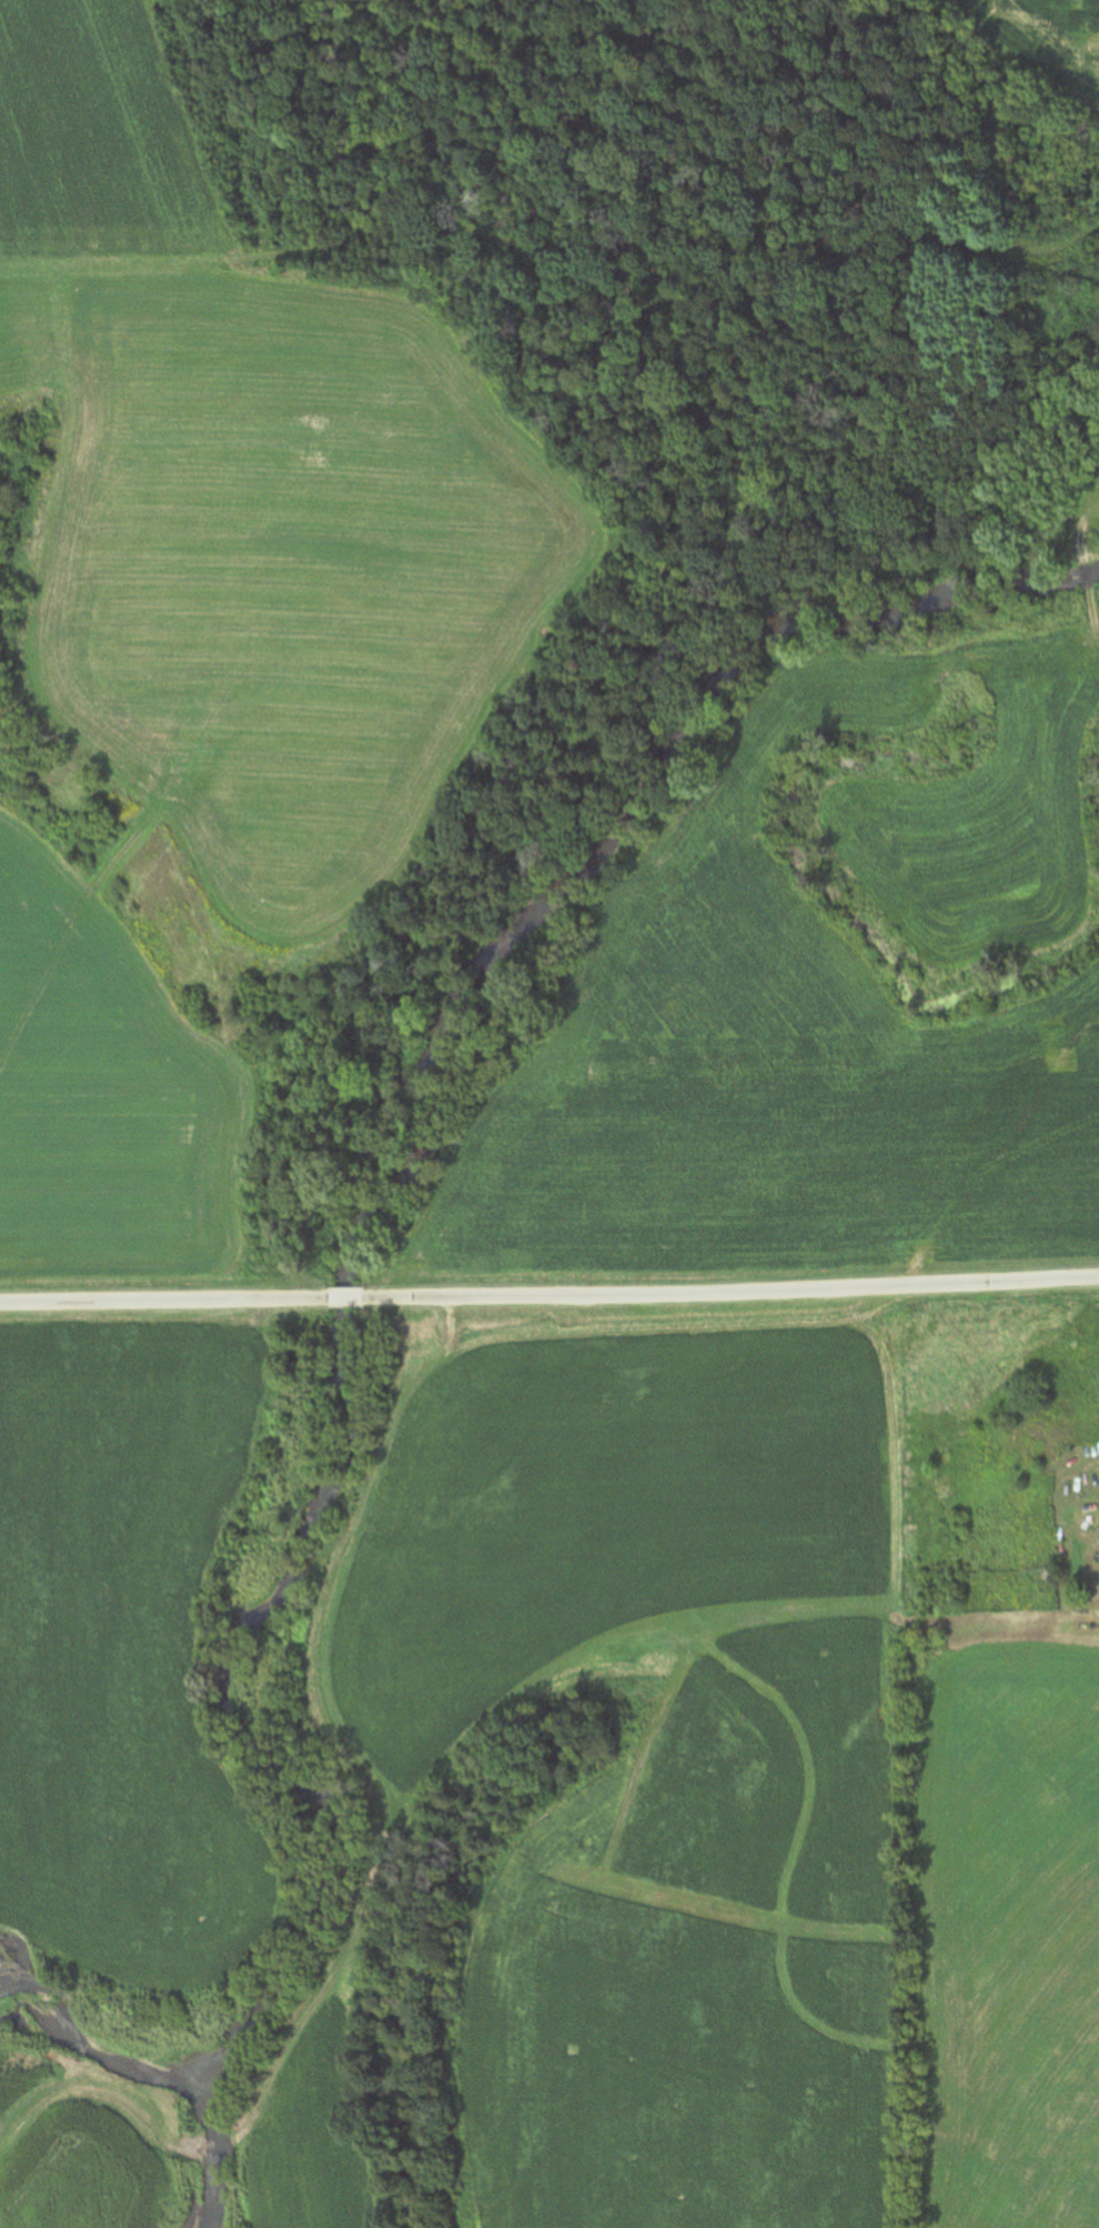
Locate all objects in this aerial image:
road: (549, 1288)
river: (58, 2076)
river: (174, 2169)

